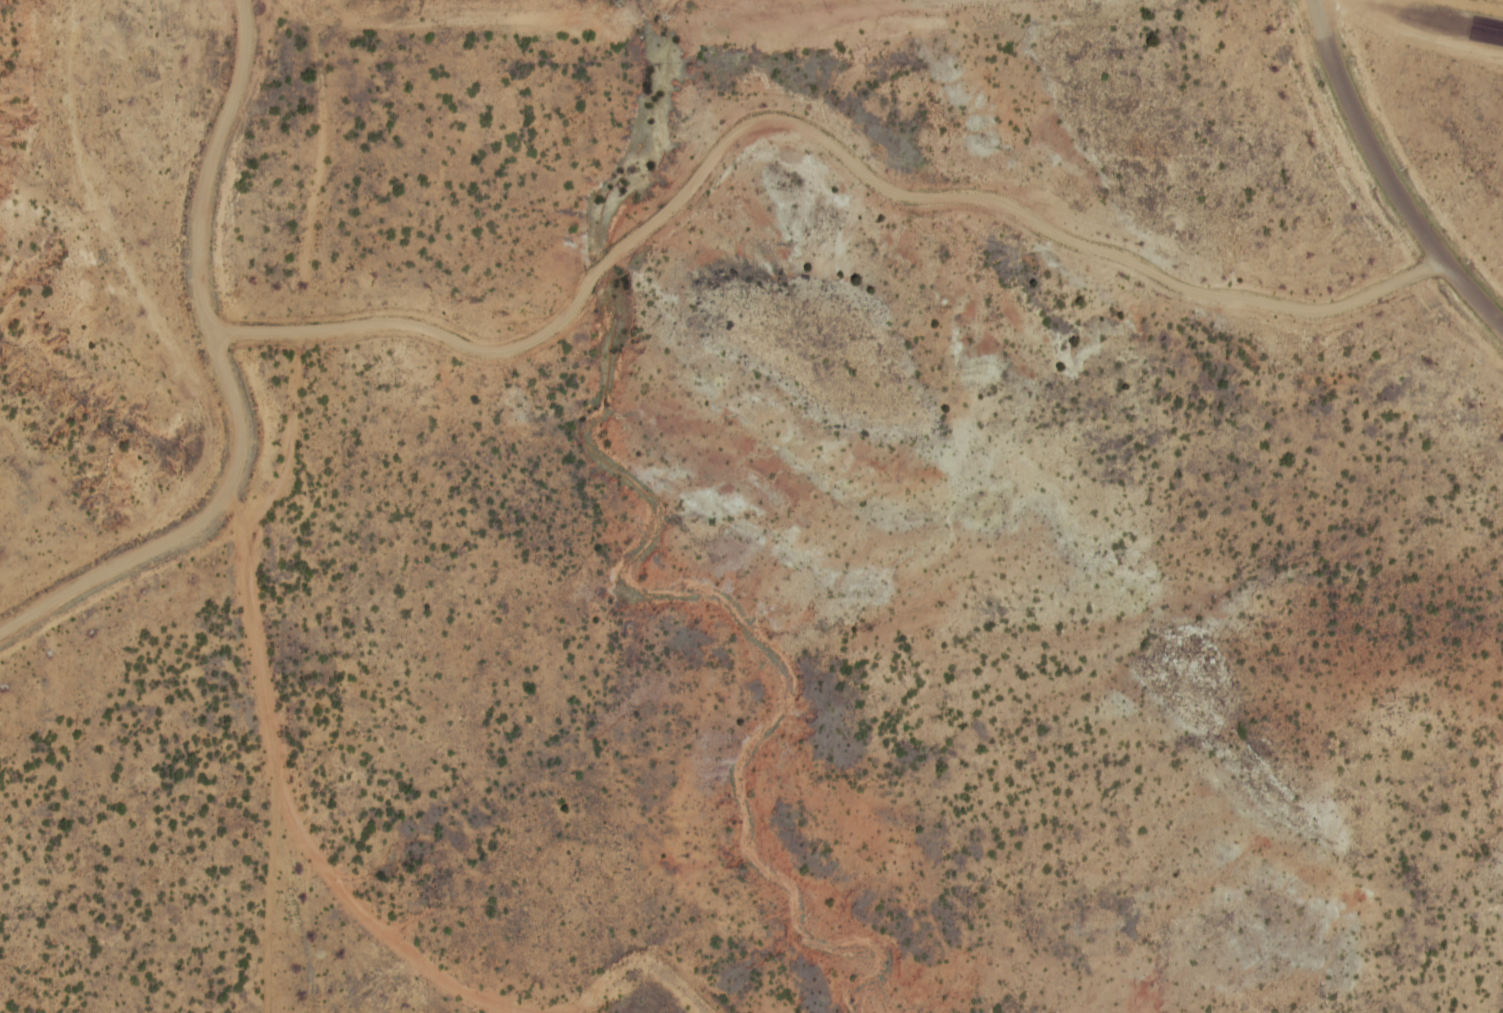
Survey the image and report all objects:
road: (1387, 174)
road: (226, 377)

